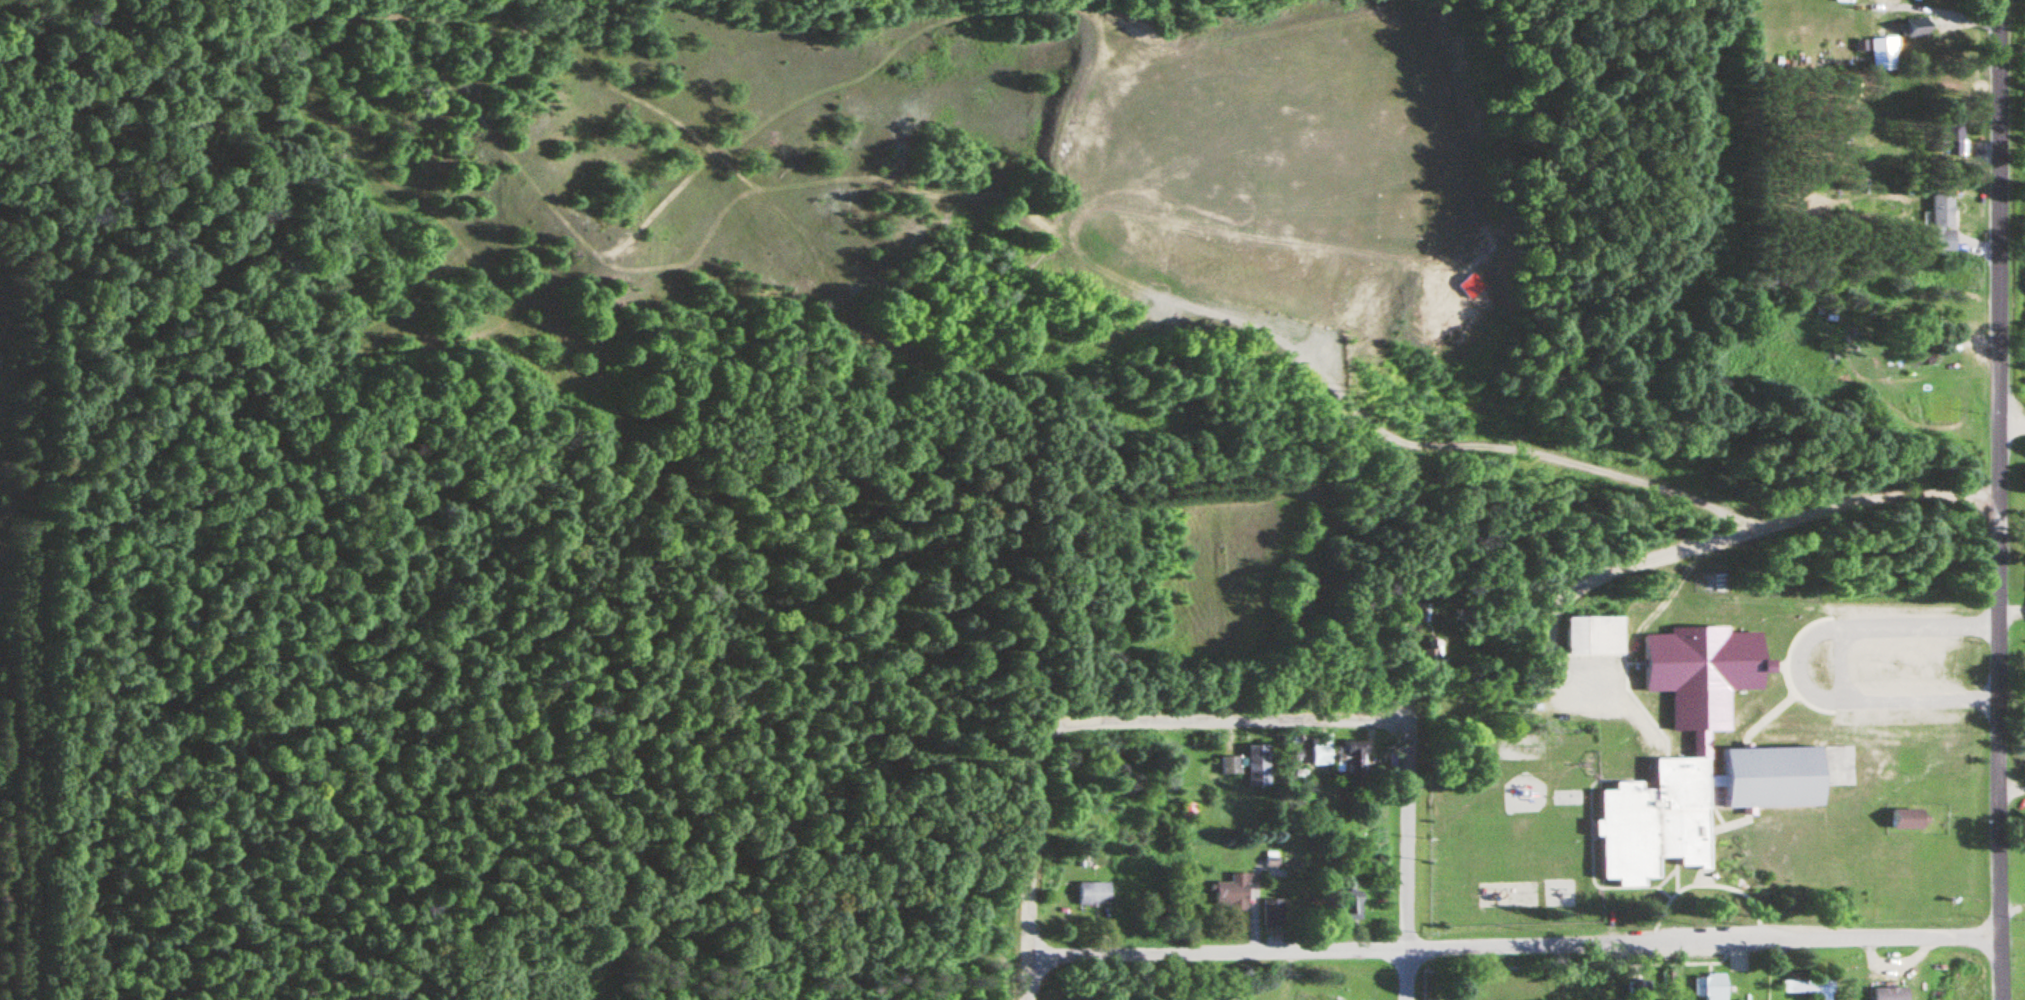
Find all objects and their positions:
building: (1915, 28)
building: (1881, 54)
building: (1952, 139)
building: (1941, 222)
road: (1975, 246)
road: (876, 331)
building: (1917, 358)
road: (2009, 424)
road: (1443, 450)
road: (1993, 500)
road: (1665, 555)
road: (2009, 612)
building: (1594, 633)
building: (1429, 654)
road: (1836, 664)
parking lot: (1897, 664)
road: (1794, 666)
road: (1313, 722)
road: (1227, 737)
building: (1320, 755)
building: (1697, 757)
building: (1349, 758)
building: (1249, 766)
road: (1028, 770)
road: (2009, 792)
building: (1187, 811)
building: (1905, 818)
road: (1403, 861)
building: (1231, 893)
building: (1092, 895)
building: (1349, 900)
road: (2009, 910)
building: (1271, 914)
road: (1510, 945)
building: (1714, 986)
building: (1809, 988)
building: (1888, 994)
building: (1303, 997)

